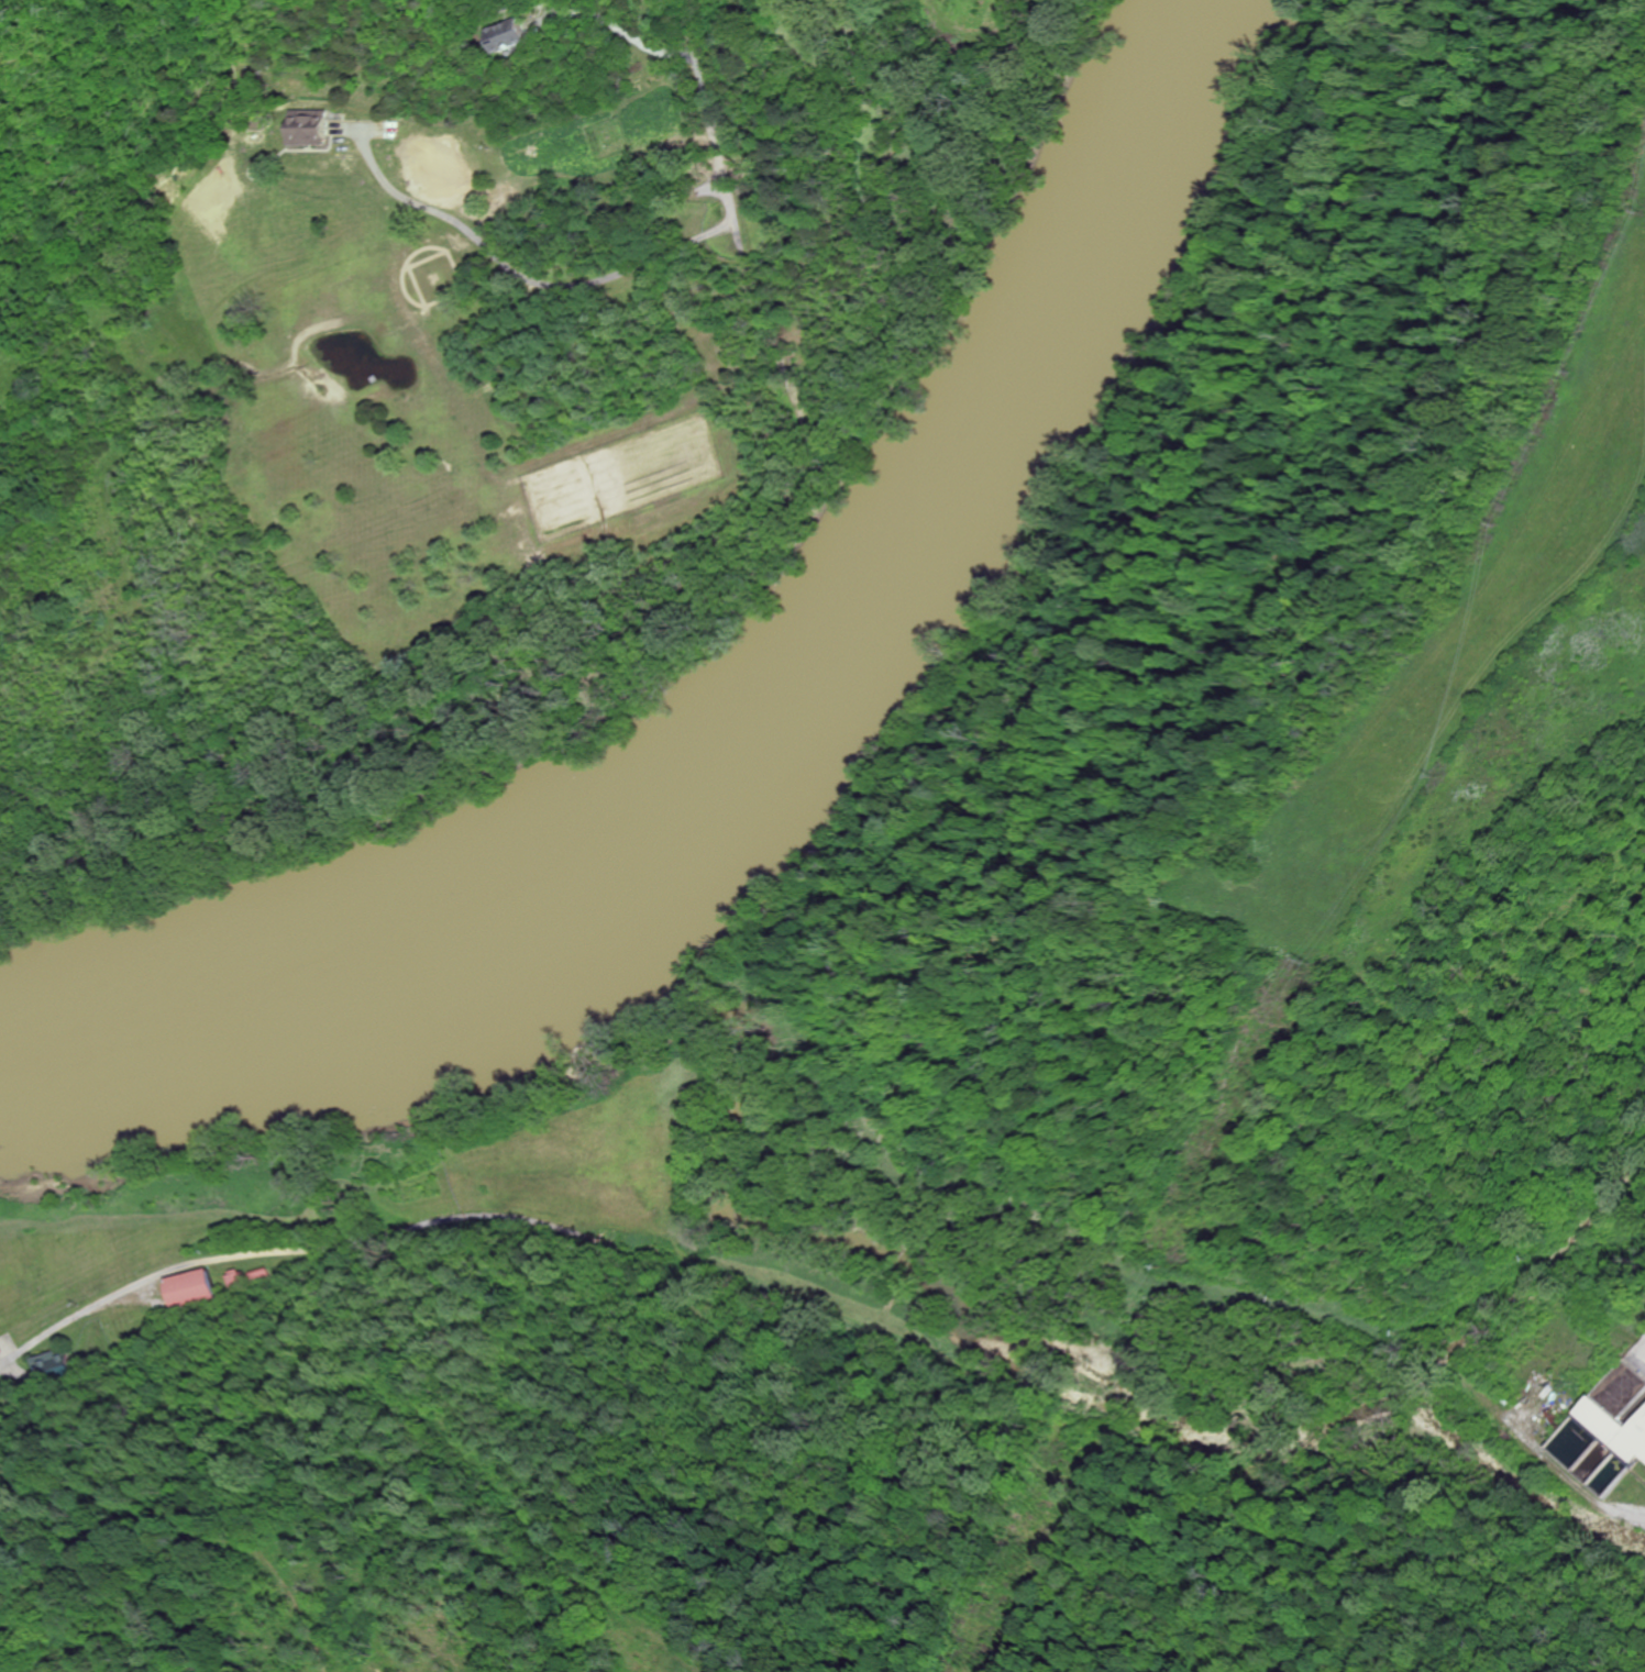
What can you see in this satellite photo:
road: (620, 23)
building: (505, 35)
road: (711, 125)
building: (311, 126)
building: (507, 230)
road: (532, 276)
road: (758, 301)
river: (766, 720)
road: (267, 1249)
building: (197, 1286)
road: (1638, 1361)
wastewater plant: (1607, 1426)

